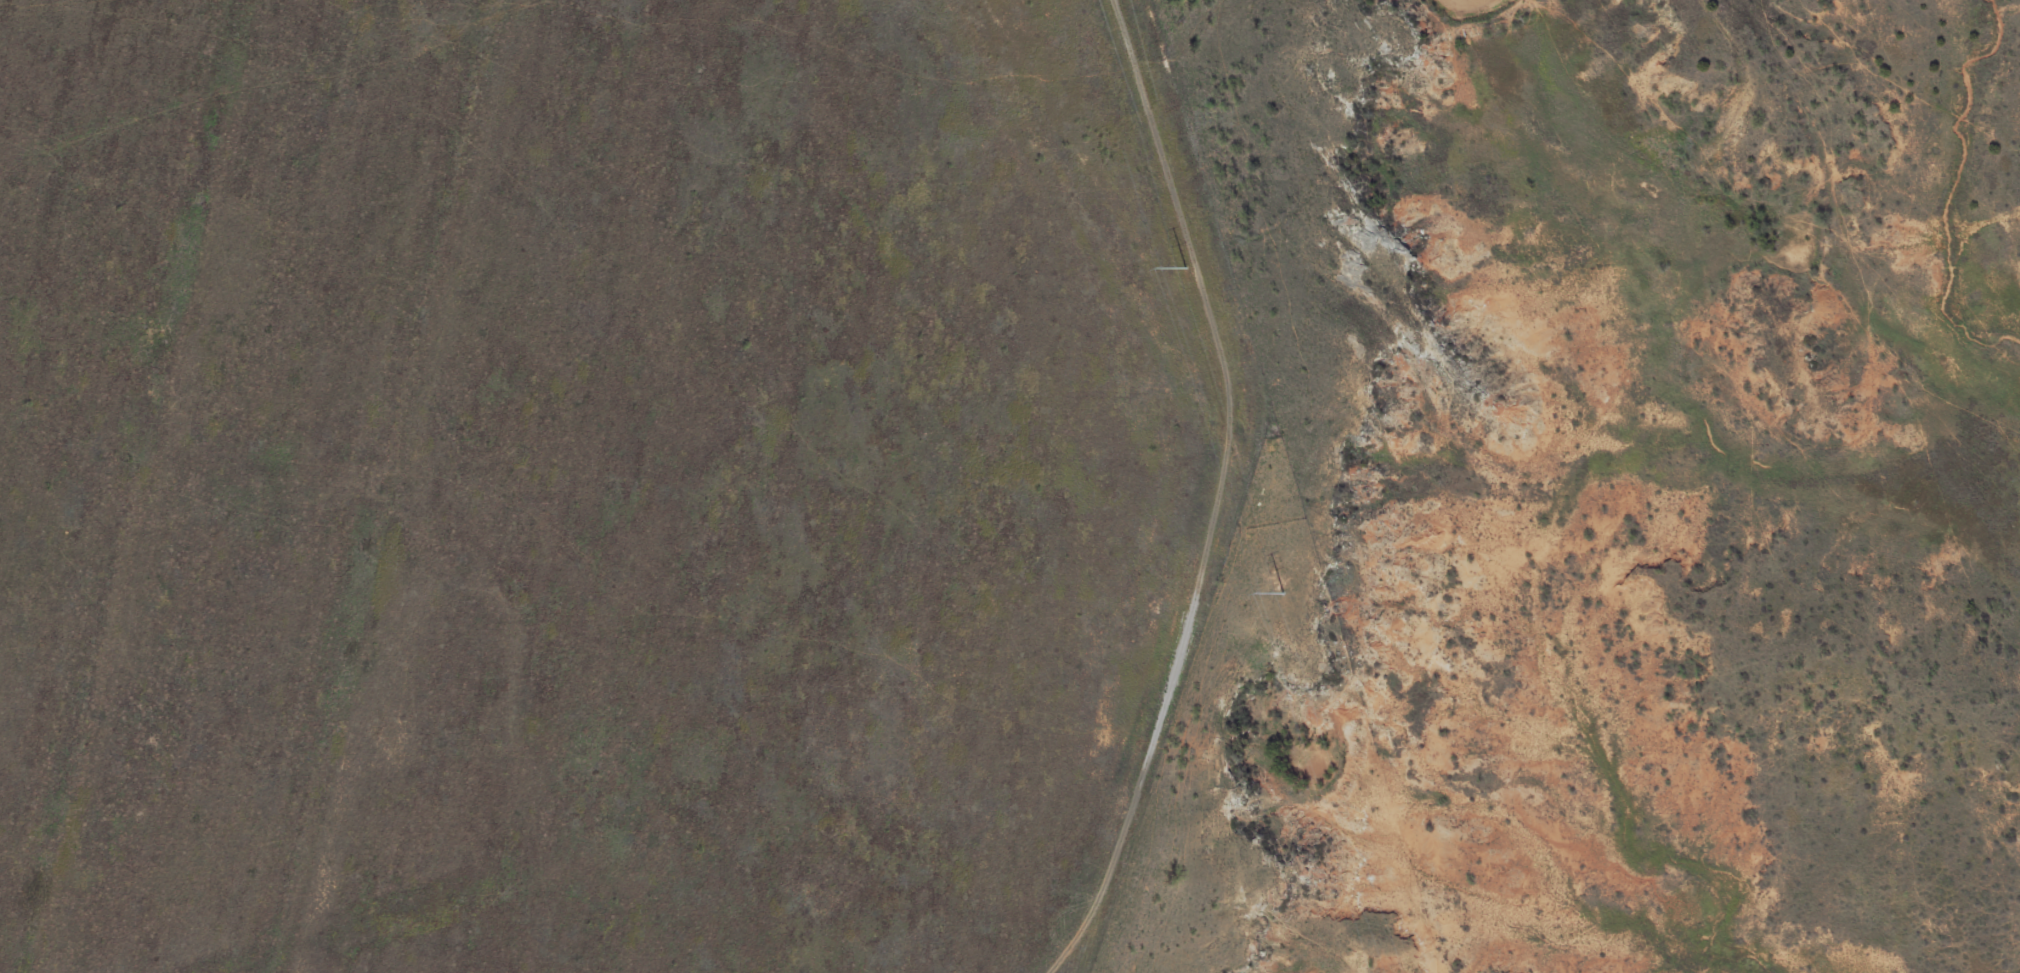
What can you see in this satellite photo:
power tower: (1186, 265)
power tower: (1283, 591)

